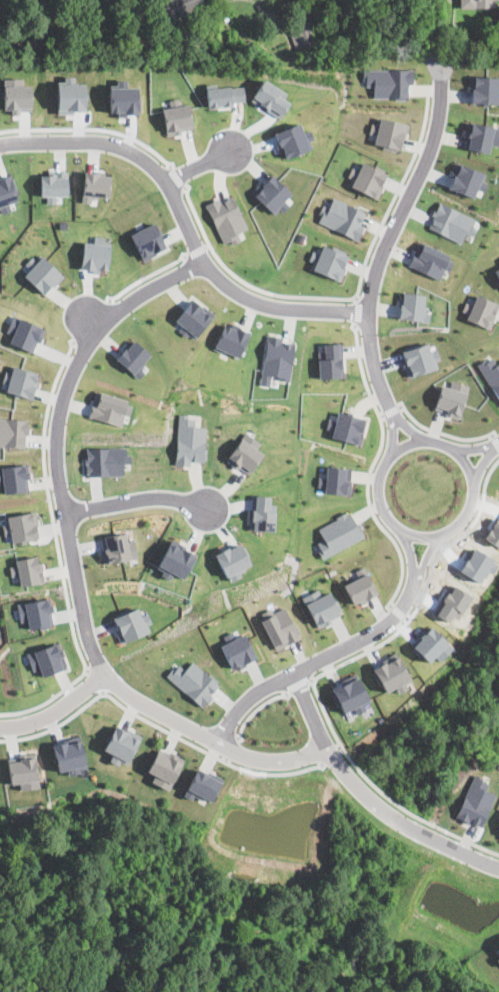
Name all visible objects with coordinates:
building: (0, 2)
building: (475, 4)
building: (171, 9)
building: (306, 37)
building: (146, 47)
building: (159, 48)
building: (117, 49)
building: (387, 81)
building: (483, 89)
building: (224, 94)
building: (16, 97)
building: (269, 98)
building: (131, 106)
building: (176, 116)
building: (388, 132)
building: (480, 135)
building: (290, 139)
road: (199, 162)
building: (366, 178)
building: (466, 179)
building: (53, 183)
building: (94, 185)
building: (6, 191)
building: (270, 192)
building: (341, 217)
building: (226, 218)
road: (184, 221)
building: (453, 222)
building: (147, 240)
building: (95, 255)
building: (498, 258)
road: (379, 259)
building: (429, 259)
building: (329, 261)
building: (497, 272)
building: (41, 273)
road: (147, 275)
road: (349, 297)
building: (413, 306)
road: (356, 309)
building: (481, 310)
building: (193, 317)
building: (23, 332)
building: (231, 339)
road: (86, 348)
building: (133, 357)
building: (276, 359)
building: (417, 359)
building: (330, 361)
building: (491, 373)
building: (20, 380)
building: (450, 397)
building: (109, 407)
road: (390, 409)
building: (345, 427)
building: (12, 431)
road: (442, 431)
building: (189, 438)
road: (494, 438)
road: (398, 448)
building: (244, 453)
road: (483, 453)
building: (106, 460)
road: (370, 467)
road: (487, 473)
building: (13, 478)
building: (335, 479)
road: (138, 498)
building: (261, 512)
building: (20, 525)
building: (337, 533)
building: (117, 547)
road: (58, 551)
building: (174, 559)
building: (232, 560)
building: (27, 570)
building: (358, 585)
building: (320, 606)
building: (35, 611)
building: (131, 623)
building: (279, 627)
building: (428, 644)
building: (237, 649)
road: (336, 651)
building: (46, 657)
road: (351, 657)
building: (389, 672)
road: (94, 680)
building: (193, 681)
road: (297, 684)
road: (129, 692)
building: (348, 694)
road: (117, 702)
road: (57, 709)
road: (256, 709)
building: (120, 743)
road: (230, 747)
building: (68, 754)
building: (164, 767)
building: (22, 770)
building: (202, 784)
road: (380, 792)
road: (369, 797)
building: (475, 800)
building: (497, 950)

